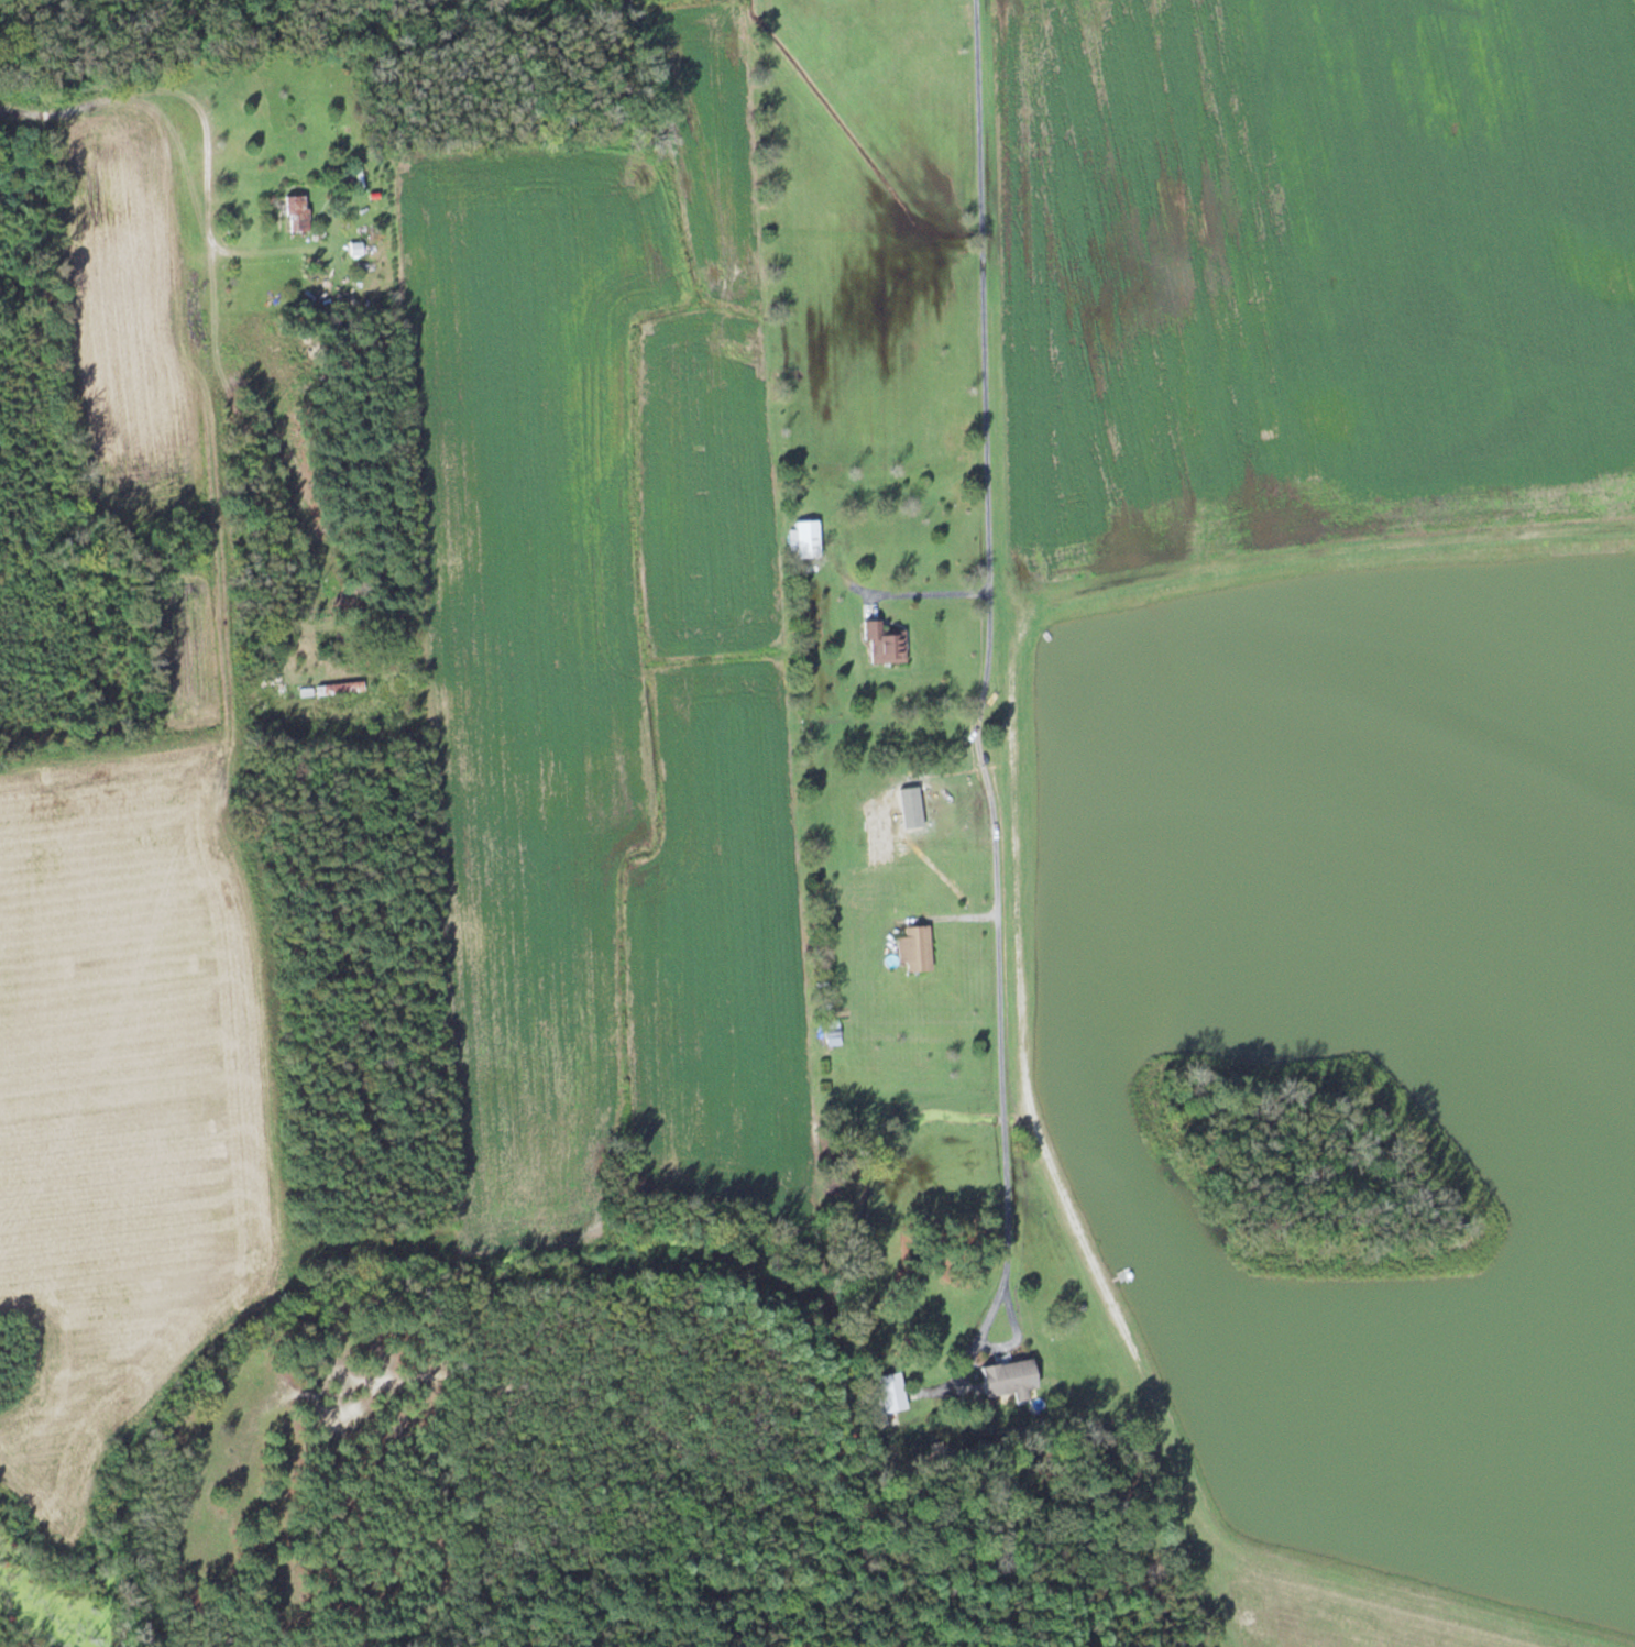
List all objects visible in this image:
building: (292, 206)
building: (804, 540)
road: (926, 590)
road: (991, 644)
building: (884, 646)
building: (329, 689)
building: (250, 704)
road: (998, 1346)
building: (1005, 1376)
building: (885, 1393)

